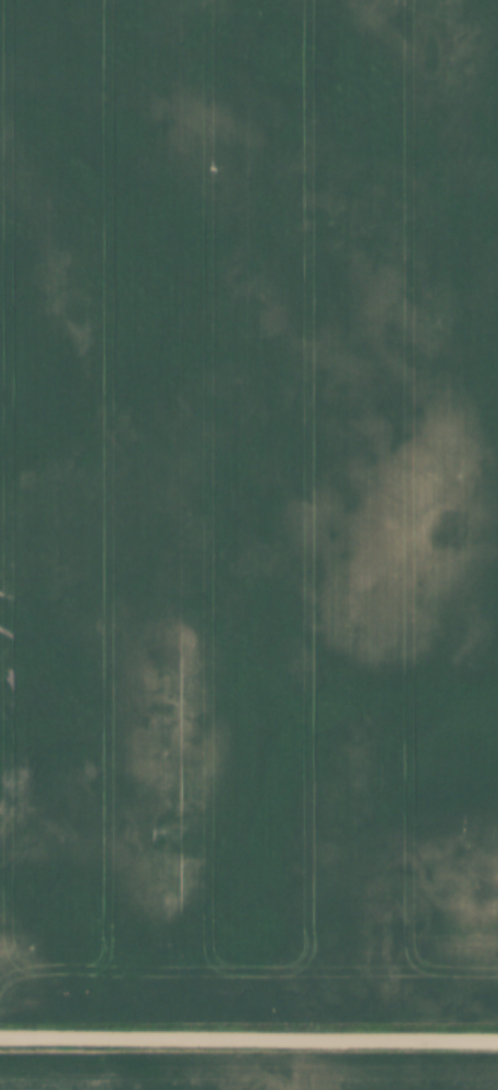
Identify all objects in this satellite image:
road: (248, 1037)

